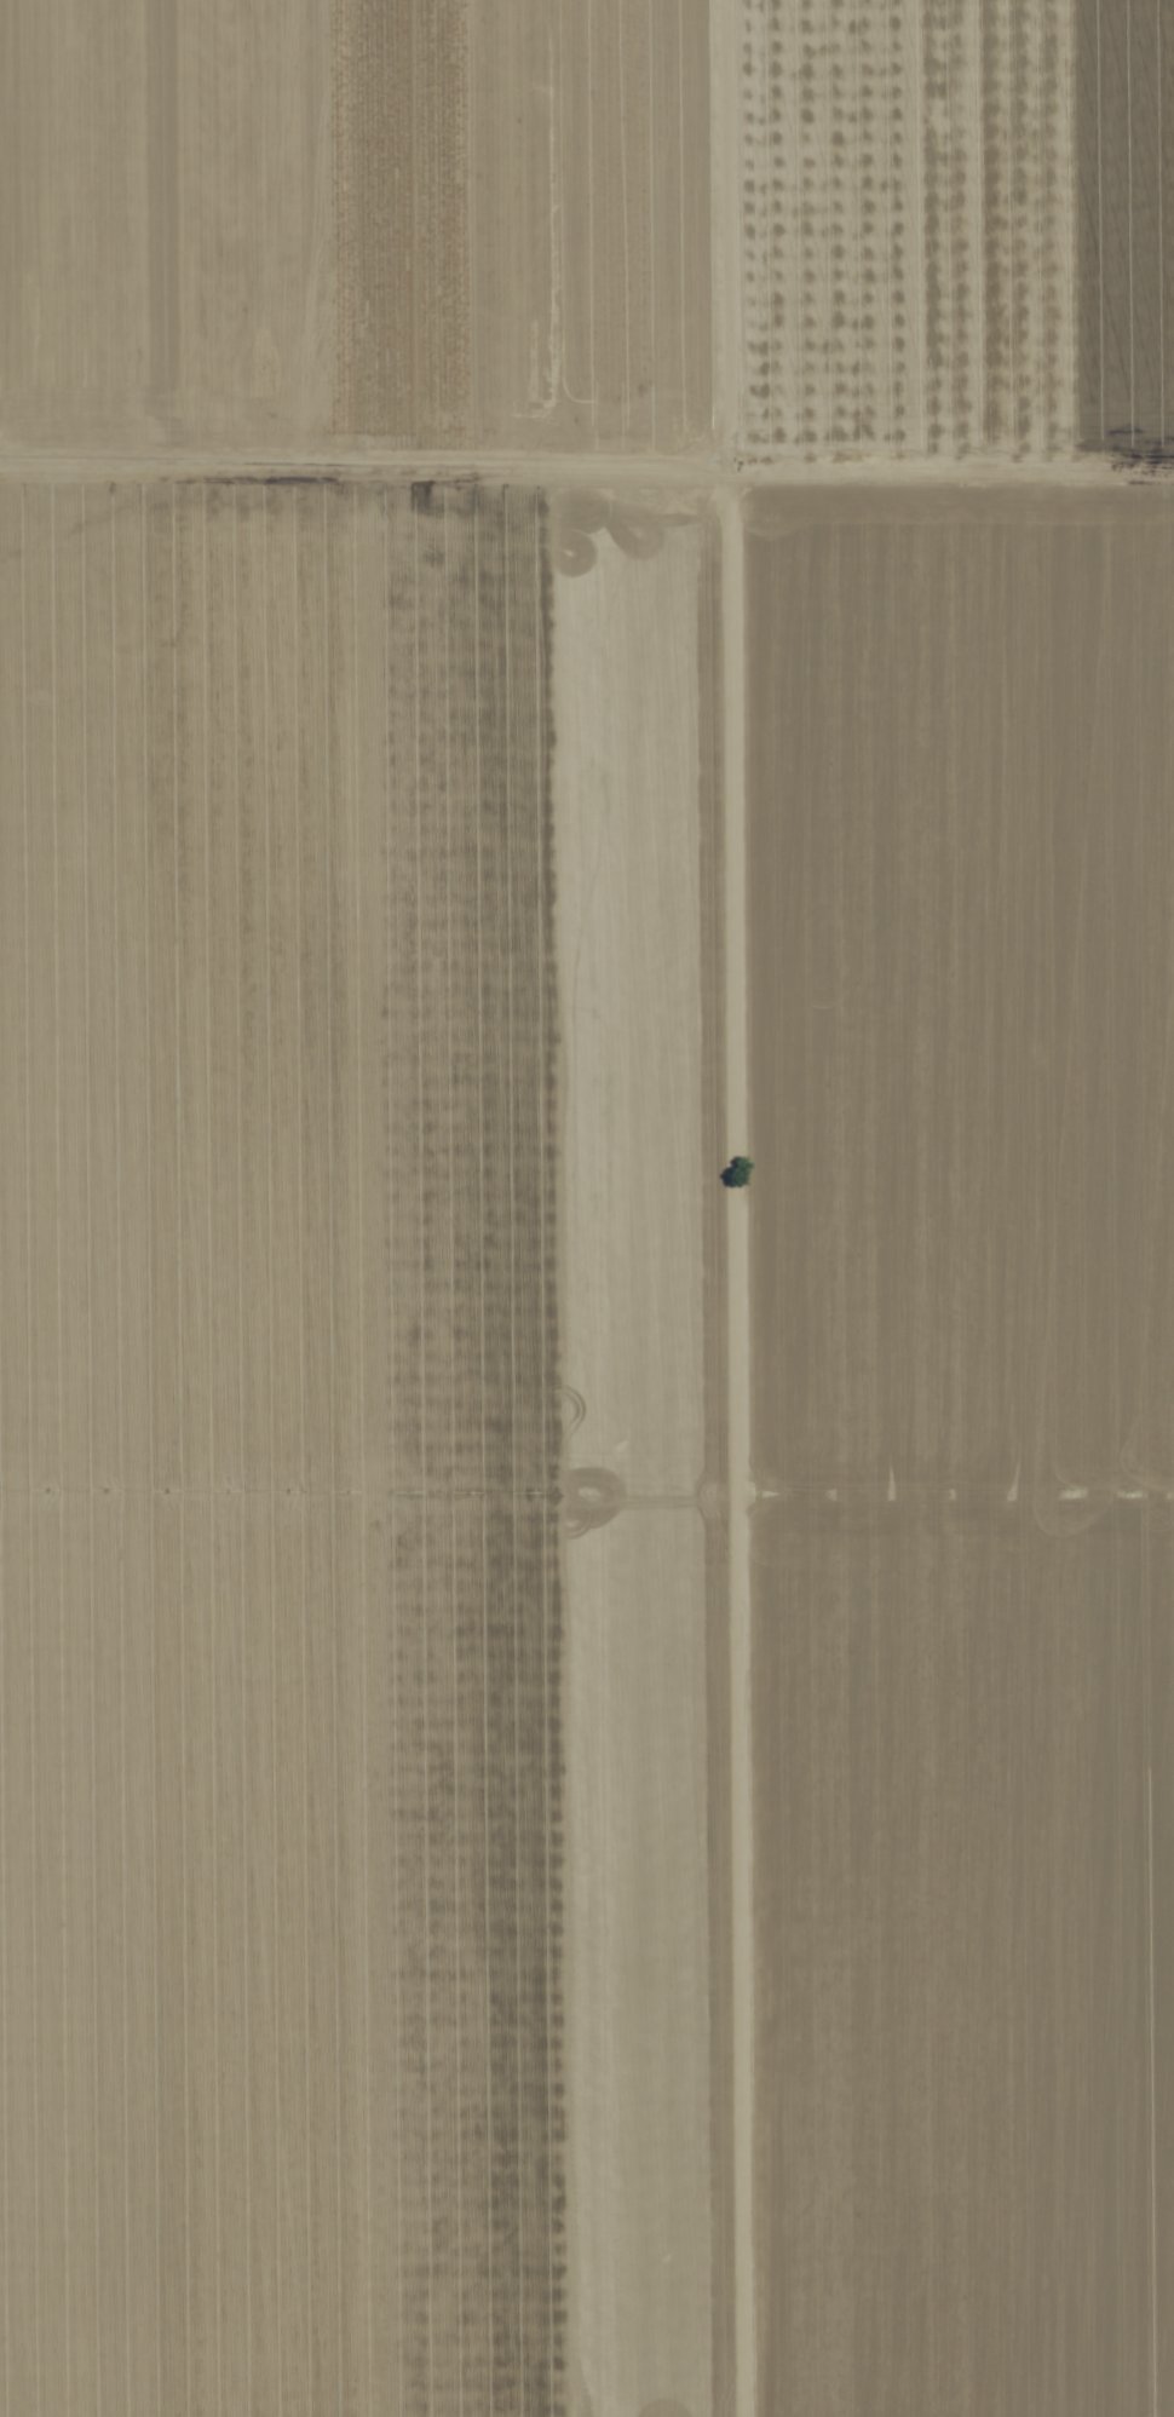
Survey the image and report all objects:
crop: (587, 1208)

